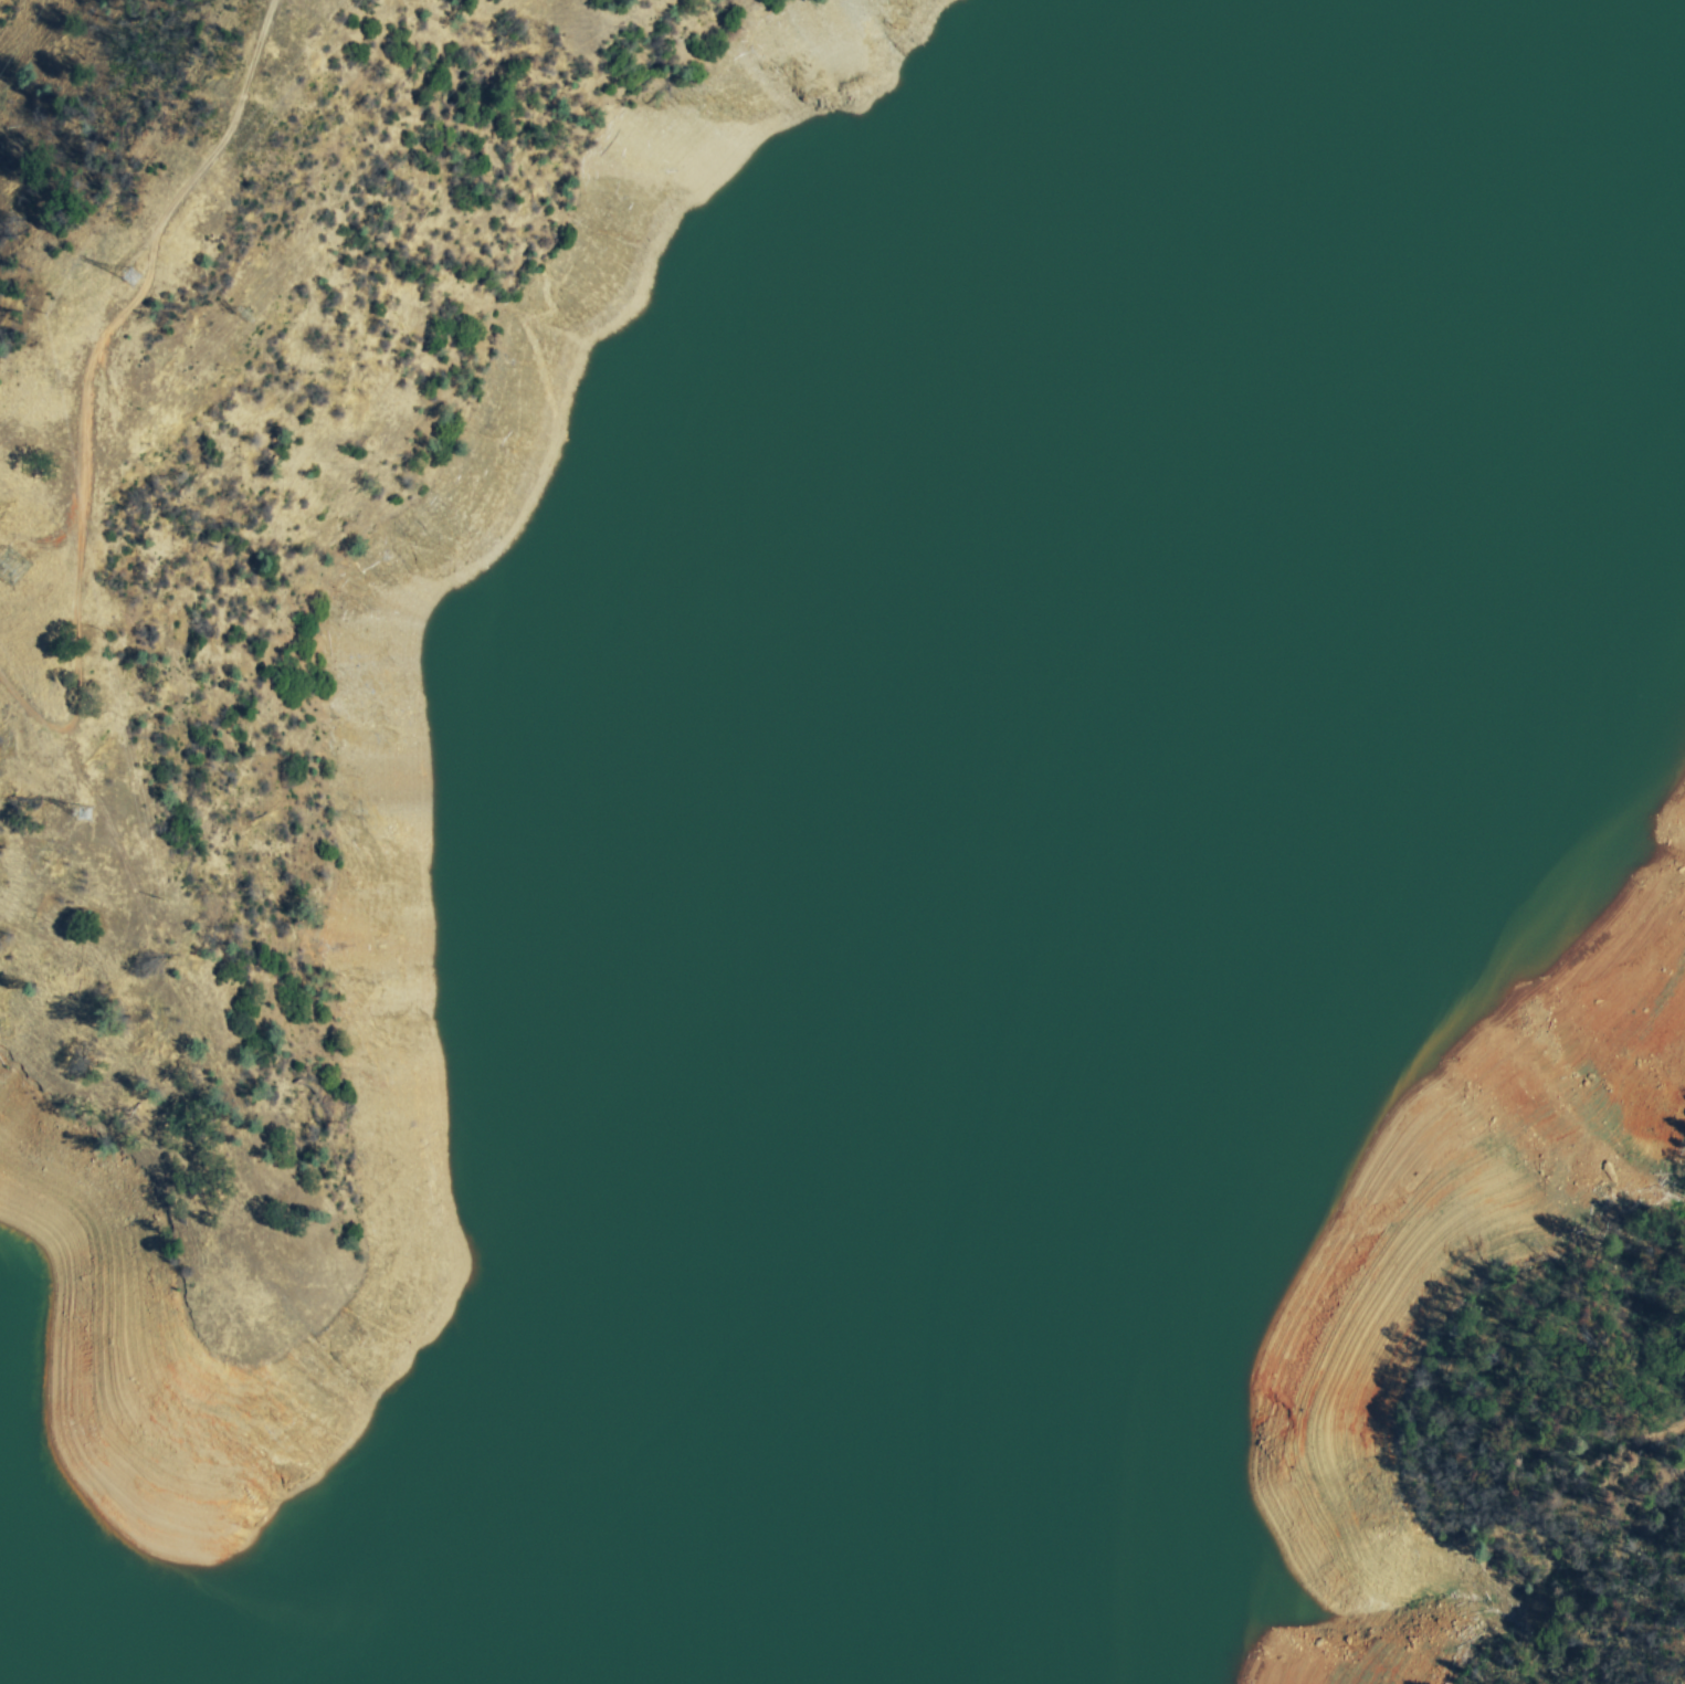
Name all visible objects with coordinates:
power tower: (116, 283)
power tower: (230, 323)
power tower: (13, 551)
power tower: (78, 821)
river: (1213, 936)
road: (1641, 1391)

